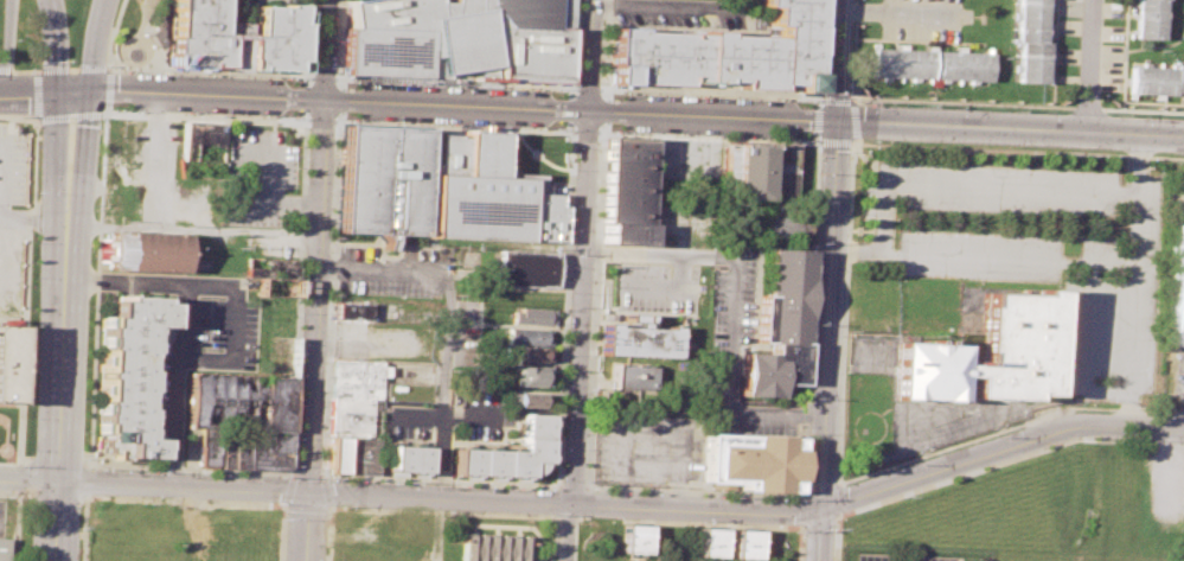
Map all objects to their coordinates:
street lamp: (339, 1)
parking lot: (244, 2)
road: (666, 5)
parking lot: (680, 11)
road: (901, 12)
building: (1148, 18)
park: (76, 27)
park: (26, 36)
park: (139, 37)
building: (236, 37)
road: (307, 37)
building: (460, 37)
street lamp: (14, 38)
road: (339, 38)
building: (1030, 39)
road: (6, 42)
street lamp: (337, 42)
road: (56, 49)
road: (96, 50)
road: (324, 50)
road: (852, 51)
road: (1052, 52)
building: (722, 53)
road: (1124, 53)
road: (591, 55)
road: (837, 59)
street lamp: (68, 60)
building: (929, 62)
street lamp: (76, 63)
road: (109, 66)
road: (1089, 66)
road: (92, 68)
road: (52, 69)
road: (72, 69)
road: (5, 70)
road: (25, 70)
street lamp: (122, 70)
street lamp: (172, 71)
street lamp: (206, 74)
street lamp: (245, 75)
street lamp: (283, 76)
road: (350, 76)
street lamp: (297, 77)
street lamp: (352, 78)
building: (1156, 78)
street lamp: (367, 79)
street lamp: (396, 81)
street lamp: (423, 82)
street lamp: (452, 83)
road: (105, 88)
street lamp: (621, 90)
street lamp: (657, 91)
road: (715, 91)
road: (37, 94)
traffic signals: (73, 94)
street lamp: (697, 94)
road: (115, 95)
street lamp: (736, 95)
road: (819, 96)
road: (834, 96)
road: (239, 97)
street lamp: (775, 97)
street lamp: (811, 100)
road: (960, 101)
street lamp: (864, 102)
street lamp: (953, 106)
road: (1086, 106)
road: (1141, 108)
road: (578, 109)
street lamp: (1045, 109)
street lamp: (116, 110)
street lamp: (137, 111)
street lamp: (184, 113)
road: (68, 114)
street lamp: (224, 114)
street lamp: (1138, 114)
street lamp: (21, 115)
road: (18, 116)
road: (204, 116)
street lamp: (262, 116)
street lamp: (293, 116)
street lamp: (345, 117)
street lamp: (71, 119)
street lamp: (369, 119)
road: (321, 120)
street lamp: (403, 120)
road: (852, 120)
street lamp: (449, 122)
street lamp: (510, 125)
street lamp: (537, 127)
street lamp: (563, 127)
road: (1009, 129)
street lamp: (606, 130)
street lamp: (642, 132)
street lamp: (98, 133)
street lamp: (673, 133)
street lamp: (715, 135)
street lamp: (750, 136)
street lamp: (597, 138)
street lamp: (789, 138)
building: (203, 147)
road: (1016, 149)
road: (70, 155)
road: (538, 155)
street lamp: (96, 162)
road: (155, 162)
parking lot: (11, 165)
building: (753, 166)
road: (4, 167)
parking lot: (257, 176)
street lamp: (595, 178)
building: (380, 179)
road: (978, 186)
building: (625, 187)
building: (478, 190)
building: (779, 192)
street lamp: (37, 193)
street lamp: (595, 197)
parking lot: (1178, 199)
road: (1139, 200)
street lamp: (817, 202)
street lamp: (92, 203)
street lamp: (570, 204)
road: (34, 217)
building: (544, 217)
building: (786, 228)
road: (192, 230)
street lamp: (594, 230)
street lamp: (36, 243)
building: (145, 250)
parking lot: (1039, 254)
street lamp: (90, 255)
road: (1064, 261)
street lamp: (568, 264)
building: (271, 266)
building: (525, 267)
parking lot: (395, 269)
street lamp: (591, 270)
street lamp: (36, 276)
building: (275, 285)
parking lot: (654, 286)
road: (664, 286)
building: (1176, 286)
street lamp: (567, 289)
street lamp: (591, 292)
road: (25, 298)
building: (529, 299)
street lamp: (88, 302)
road: (582, 305)
road: (731, 306)
building: (351, 311)
street lamp: (34, 312)
road: (845, 313)
building: (532, 315)
road: (446, 319)
road: (233, 323)
street lamp: (567, 323)
street lamp: (590, 323)
building: (779, 323)
street lamp: (812, 325)
road: (179, 326)
road: (313, 330)
building: (525, 334)
street lamp: (87, 336)
building: (639, 337)
road: (826, 340)
parking lot: (199, 342)
street lamp: (34, 346)
parking lot: (736, 346)
road: (1084, 346)
building: (524, 353)
street lamp: (564, 353)
street lamp: (588, 353)
building: (988, 355)
building: (6, 361)
street lamp: (85, 368)
parking lot: (1179, 370)
building: (631, 374)
building: (357, 376)
building: (530, 376)
building: (129, 377)
street lamp: (33, 382)
street lamp: (563, 384)
road: (62, 389)
street lamp: (84, 399)
building: (524, 399)
building: (238, 401)
road: (440, 413)
street lamp: (562, 414)
building: (350, 415)
parking lot: (481, 415)
street lamp: (587, 415)
street lamp: (32, 416)
parking lot: (404, 421)
park: (1, 425)
road: (1009, 426)
street lamp: (431, 427)
street lamp: (82, 429)
street lamp: (31, 447)
street lamp: (585, 447)
building: (243, 448)
street lamp: (561, 448)
parking lot: (644, 450)
building: (335, 453)
building: (507, 453)
street lamp: (82, 454)
building: (359, 454)
building: (407, 458)
road: (1007, 458)
building: (751, 461)
road: (187, 467)
street lamp: (328, 477)
street lamp: (357, 478)
street lamp: (389, 479)
street lamp: (559, 479)
street lamp: (583, 480)
street lamp: (414, 482)
road: (557, 482)
street lamp: (461, 483)
street lamp: (486, 484)
street lamp: (516, 485)
street lamp: (545, 487)
road: (284, 489)
road: (879, 489)
street lamp: (599, 490)
street lamp: (622, 490)
street lamp: (653, 491)
street lamp: (715, 495)
street lamp: (6, 496)
street lamp: (747, 496)
street lamp: (777, 497)
street lamp: (795, 498)
road: (838, 498)
street lamp: (148, 503)
road: (568, 530)
street lamp: (82, 531)
road: (837, 536)
building: (635, 540)
building: (712, 542)
building: (748, 544)
building: (492, 547)
building: (2, 549)
parking lot: (894, 557)

